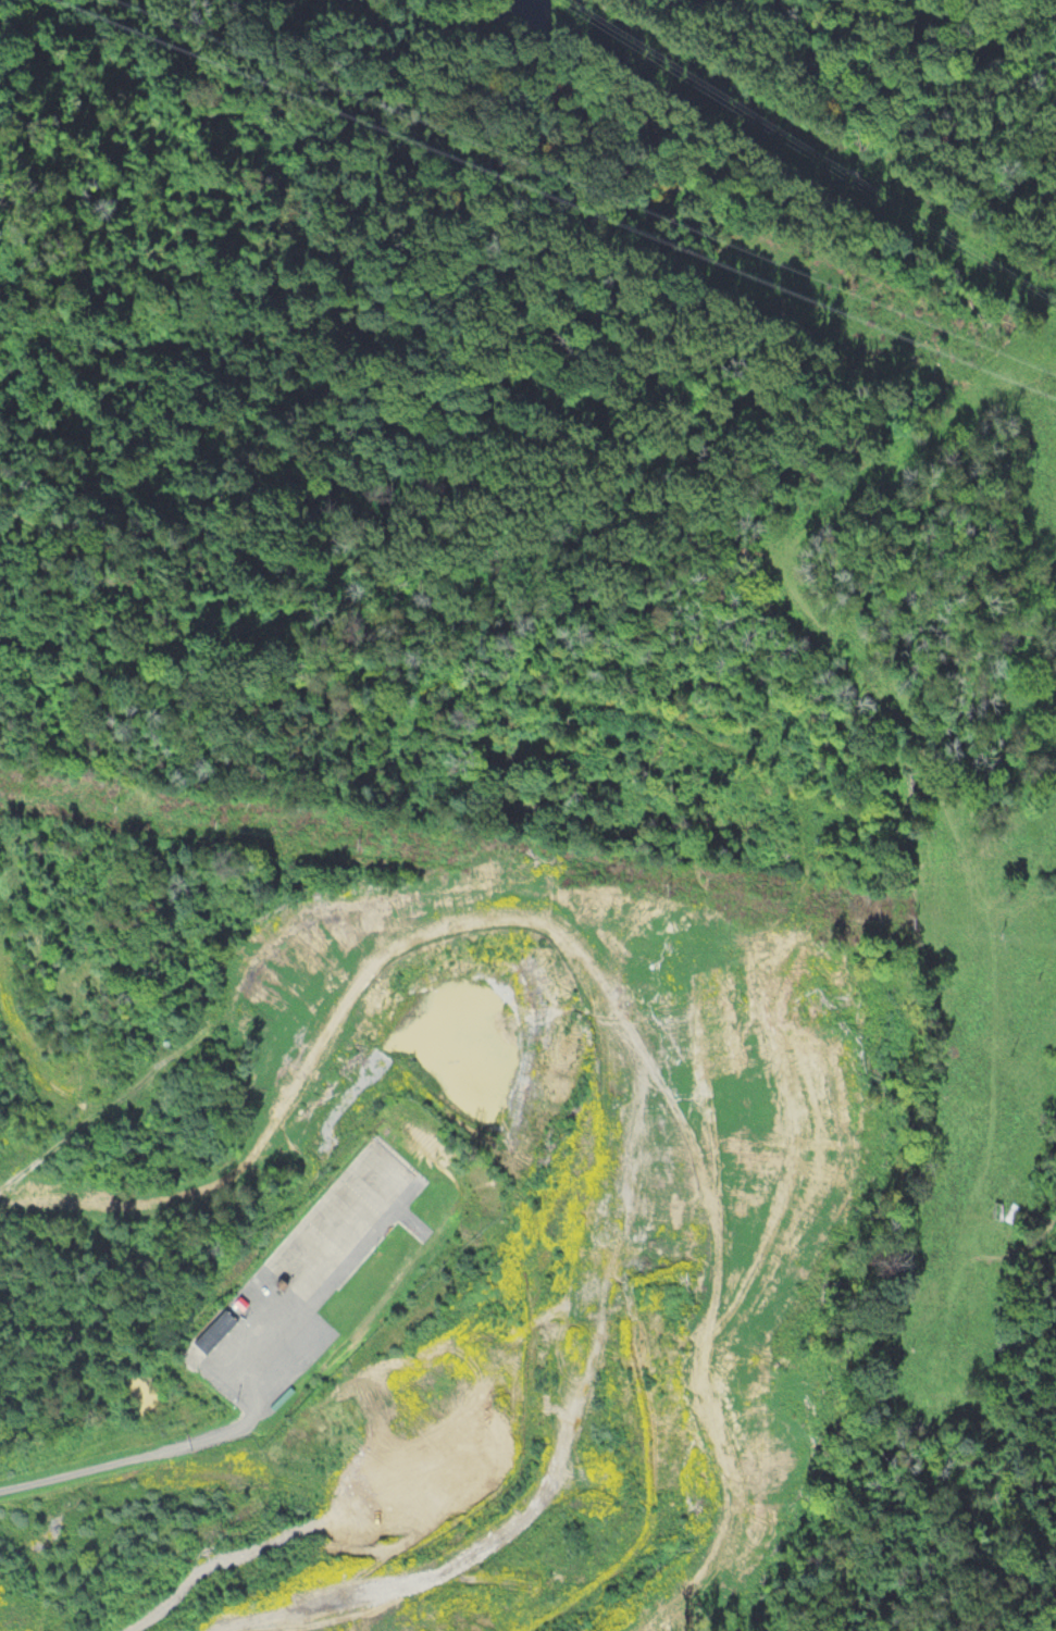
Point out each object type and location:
building: (993, 1209)
building: (212, 1331)
road: (183, 1442)

